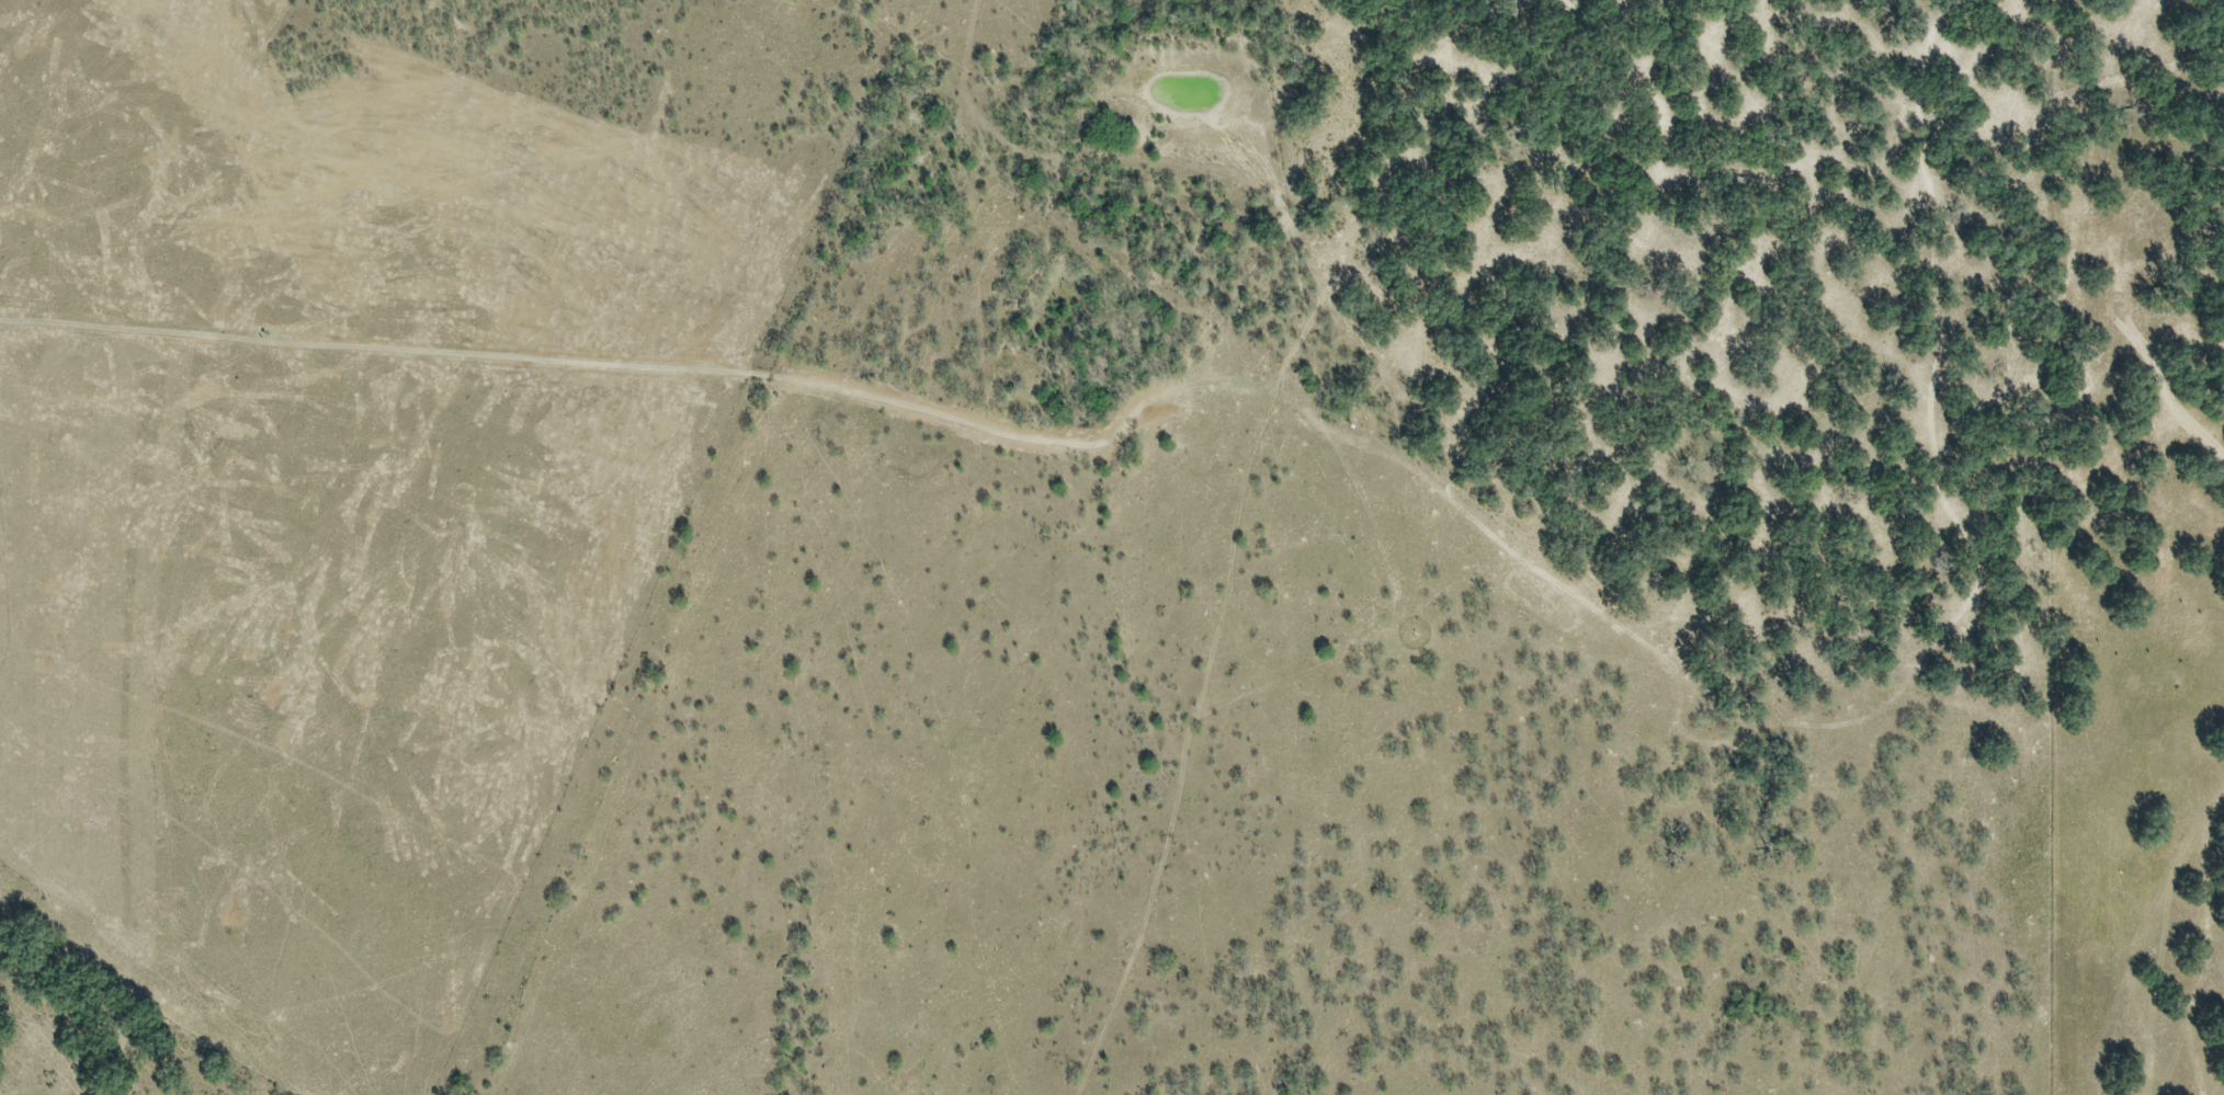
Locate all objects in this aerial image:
road: (517, 349)
road: (2165, 946)

